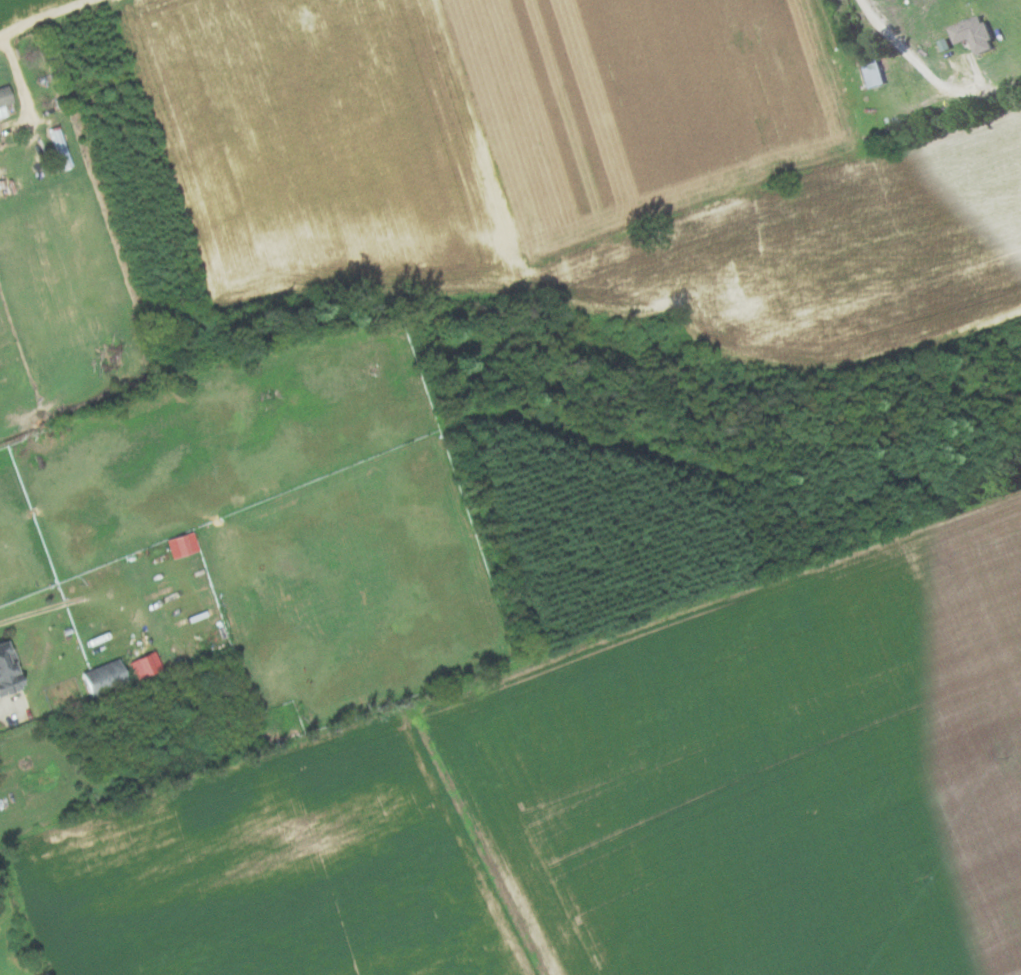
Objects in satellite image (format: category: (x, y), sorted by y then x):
road: (48, 17)
building: (971, 33)
road: (928, 67)
building: (870, 72)
road: (22, 80)
building: (3, 98)
building: (57, 151)
road: (511, 673)
building: (6, 674)
building: (101, 677)
road: (3, 706)

